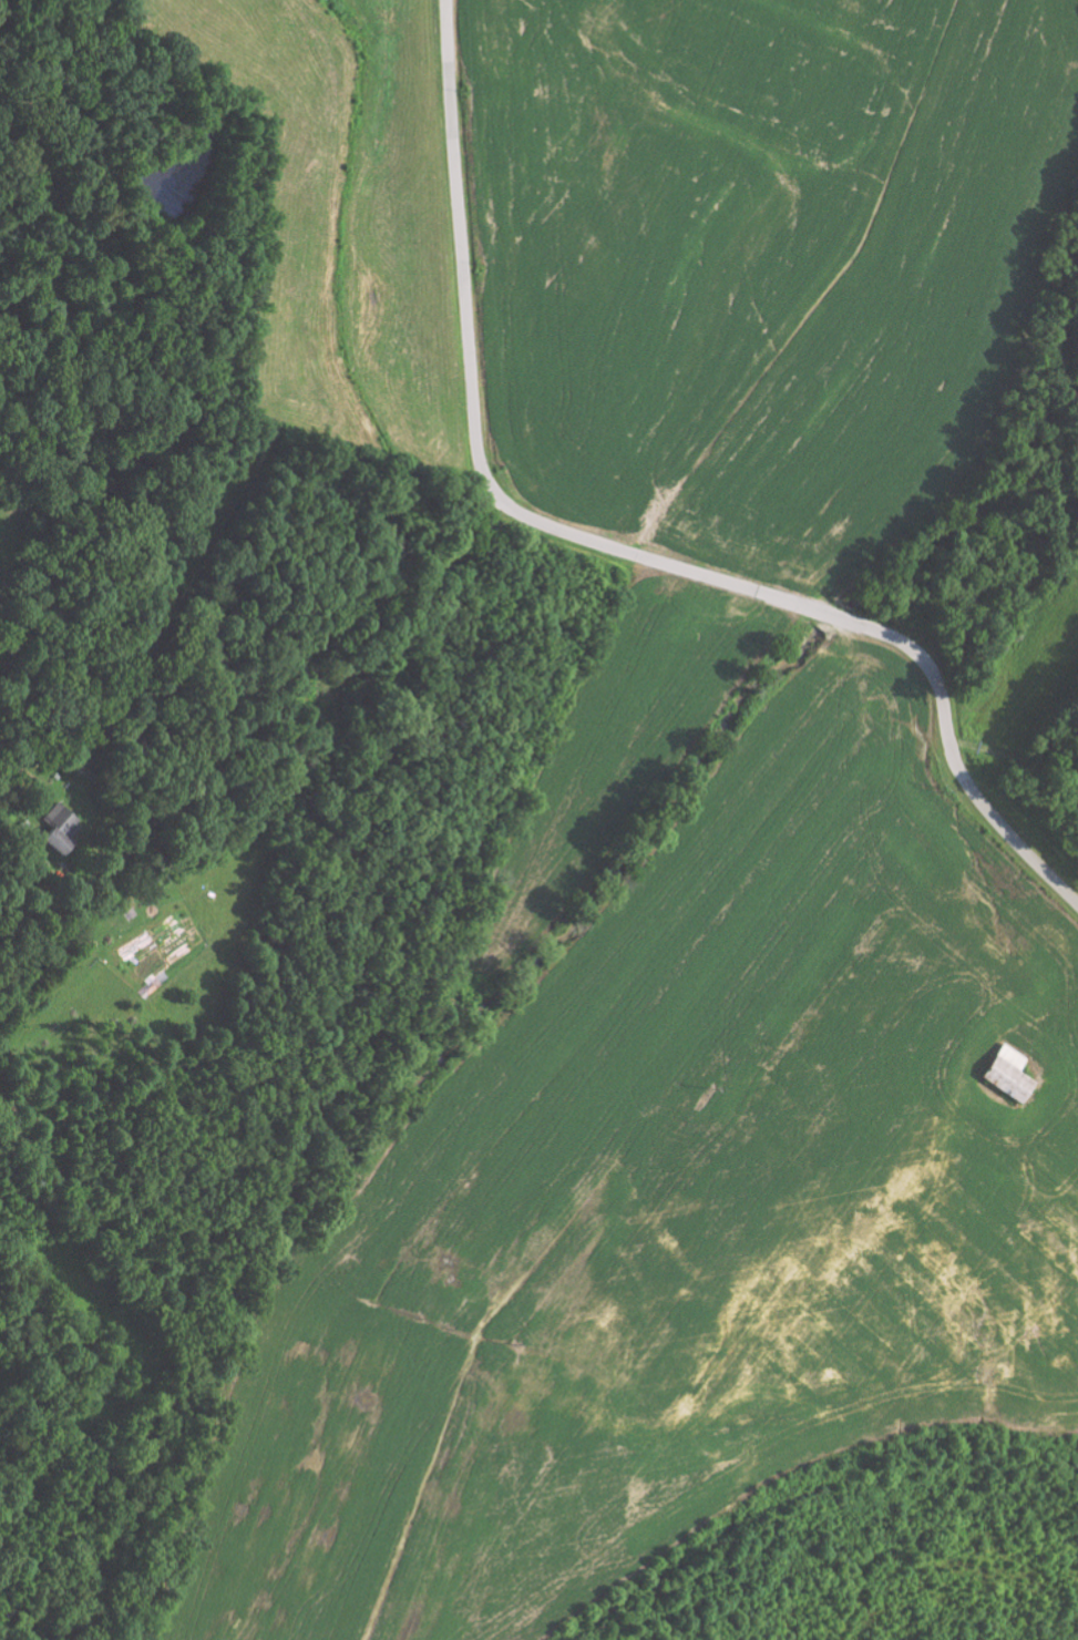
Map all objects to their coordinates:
road: (612, 546)
road: (346, 709)
building: (59, 827)
building: (1007, 1073)

